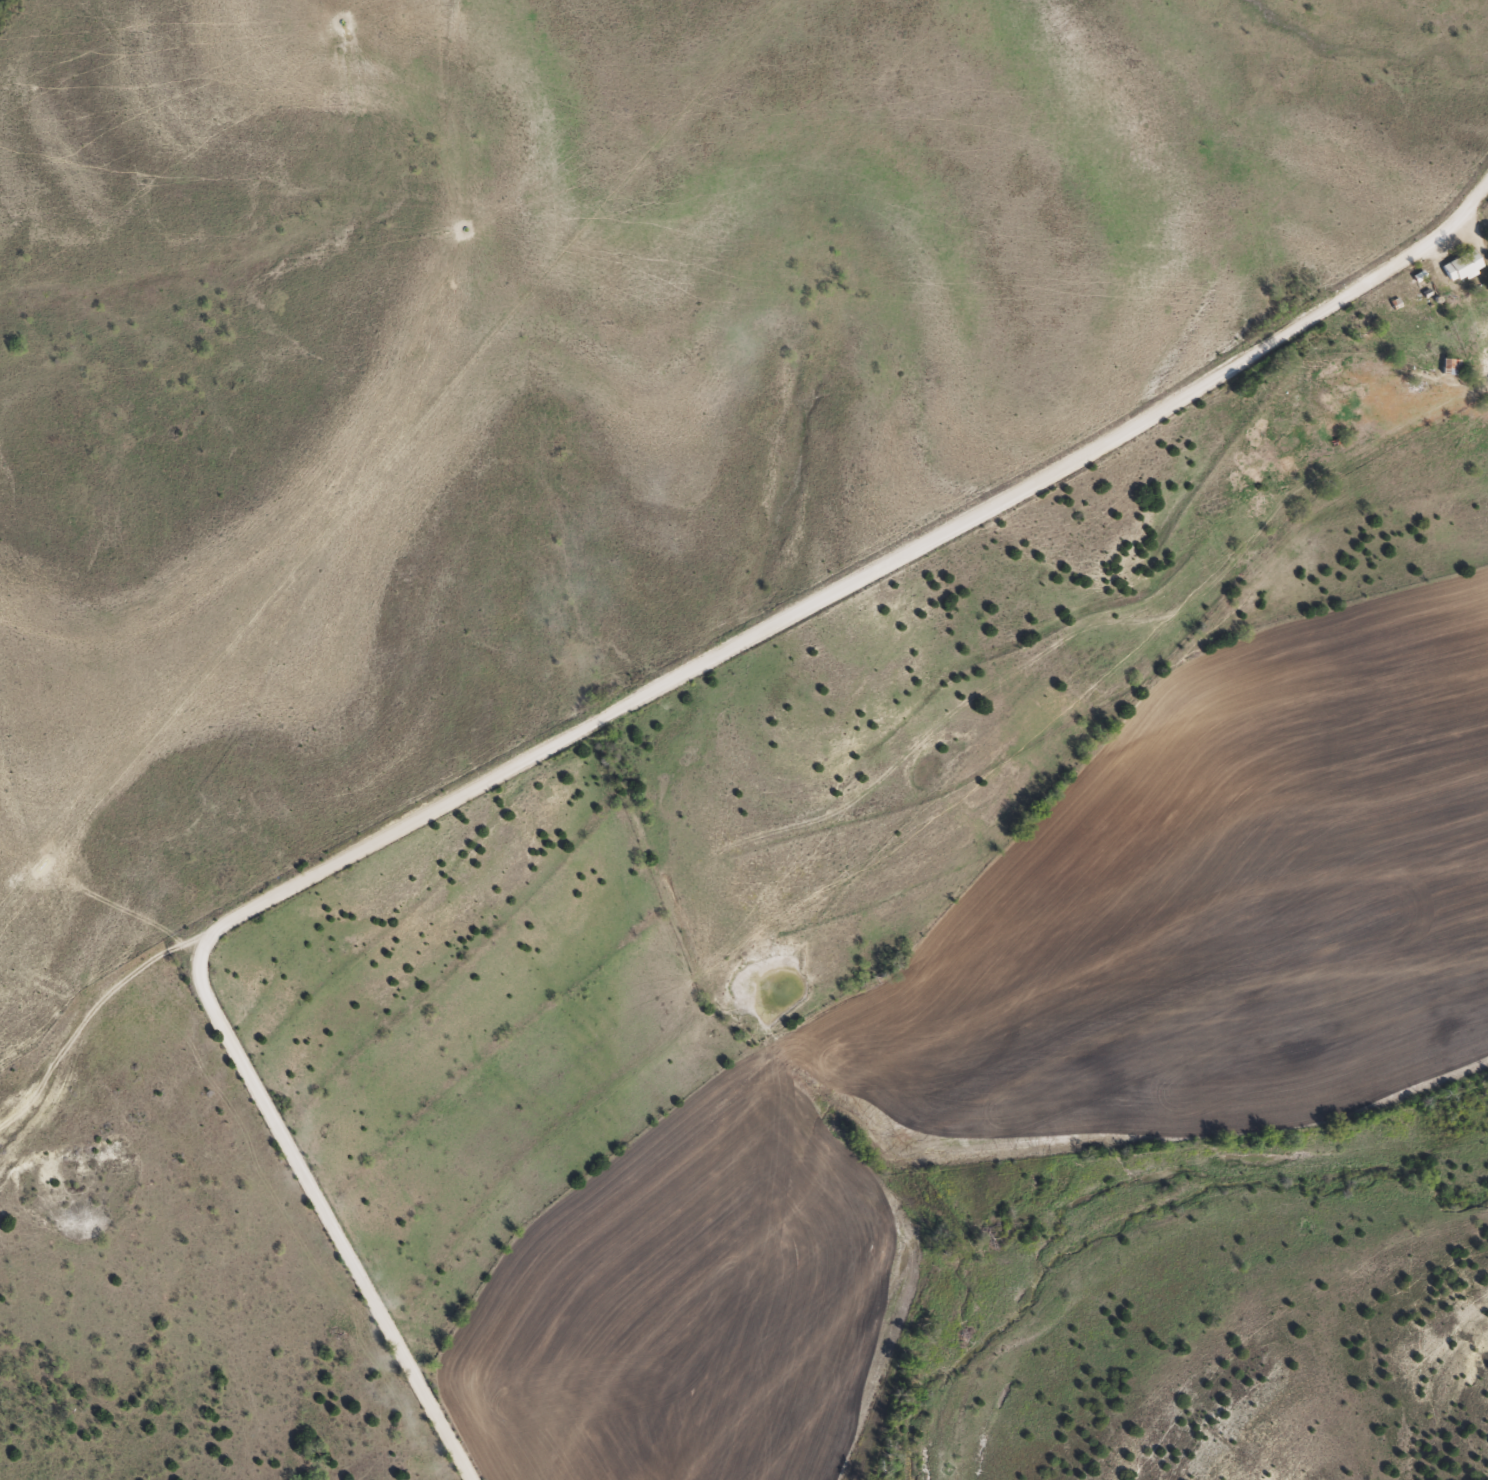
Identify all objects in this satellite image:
building: (1465, 267)
road: (863, 575)
road: (94, 1022)
road: (324, 1210)

